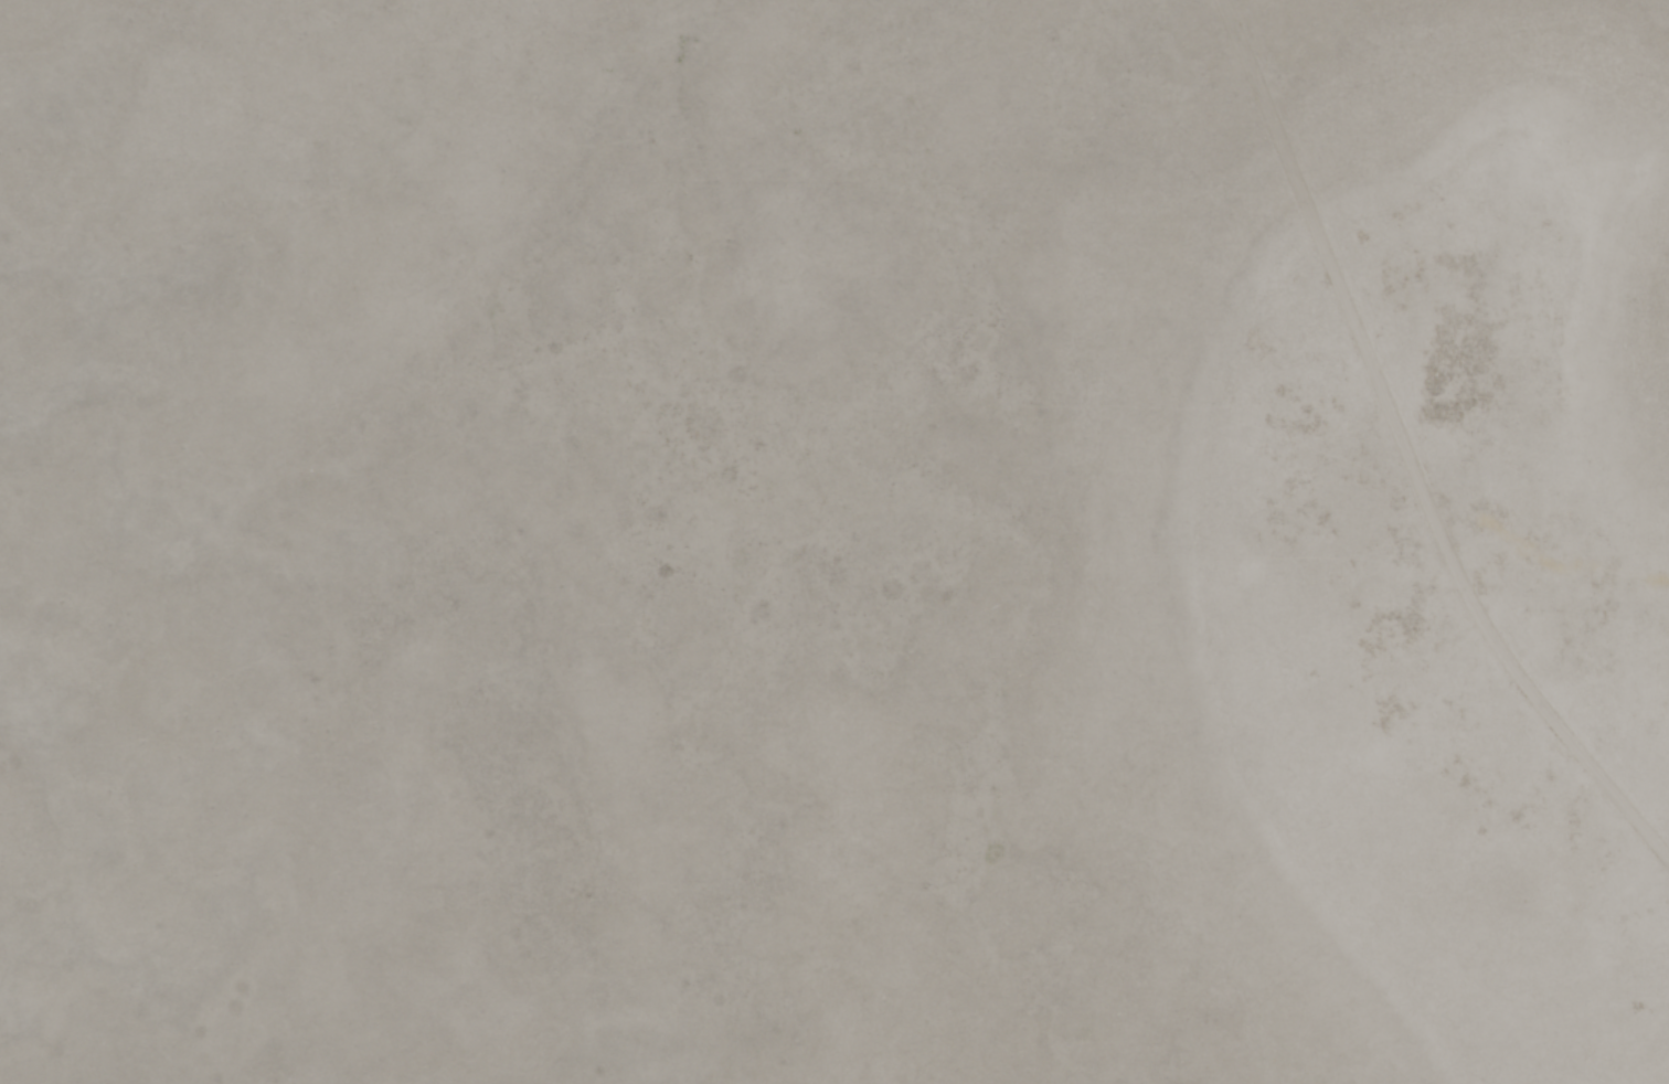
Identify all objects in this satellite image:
road: (1406, 449)

